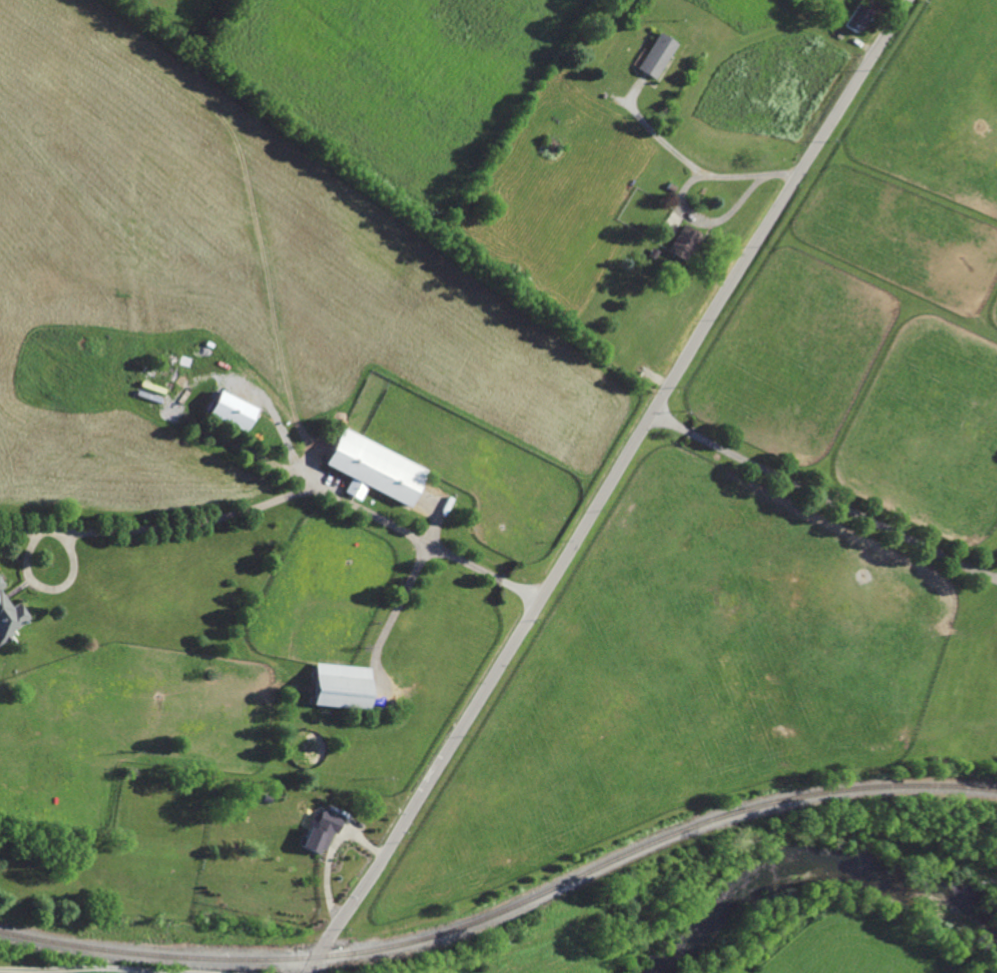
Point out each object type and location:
building: (857, 17)
building: (656, 55)
building: (617, 81)
road: (662, 140)
building: (669, 186)
building: (702, 190)
road: (697, 214)
building: (683, 240)
building: (652, 251)
building: (230, 410)
road: (280, 435)
building: (372, 471)
road: (609, 486)
building: (354, 490)
road: (823, 500)
road: (231, 515)
building: (0, 586)
road: (393, 613)
building: (9, 620)
building: (339, 693)
building: (265, 798)
building: (320, 830)
road: (326, 855)
railway: (505, 909)
road: (142, 964)

